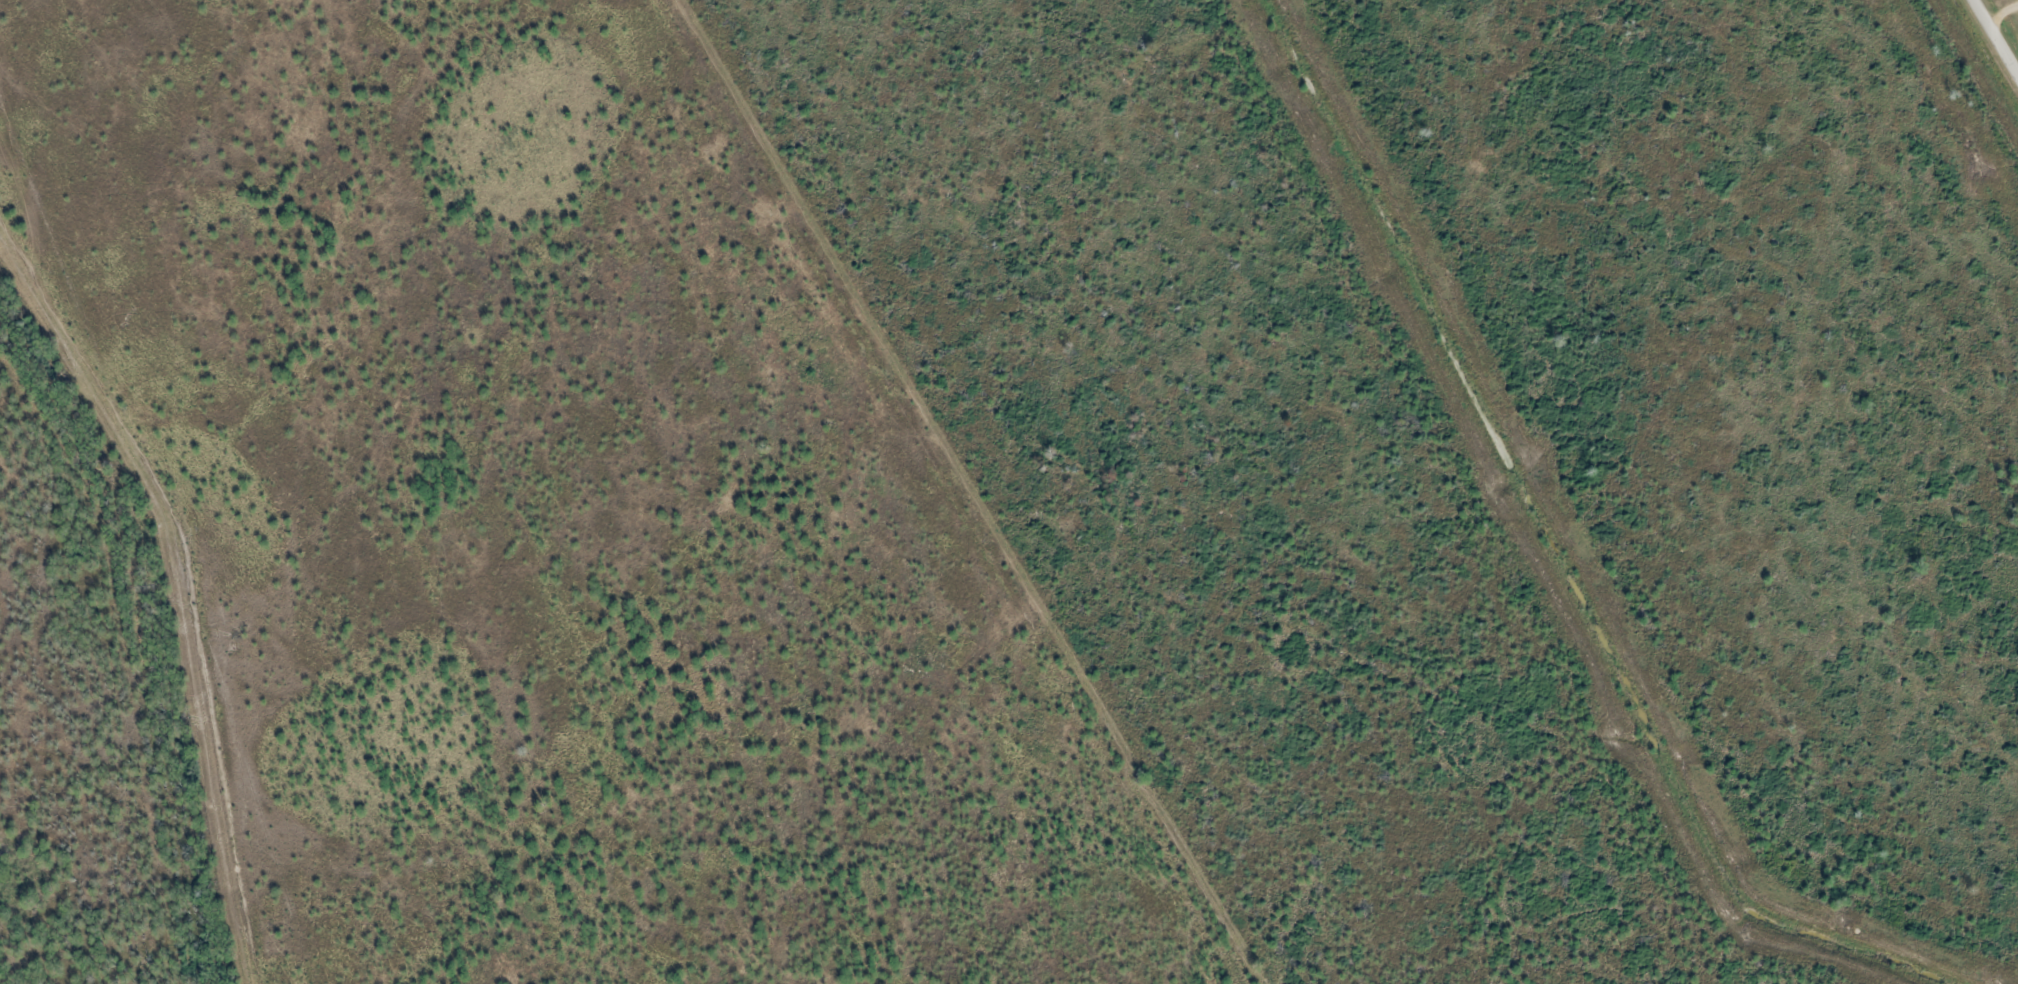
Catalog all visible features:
road: (1996, 37)
road: (1529, 542)

